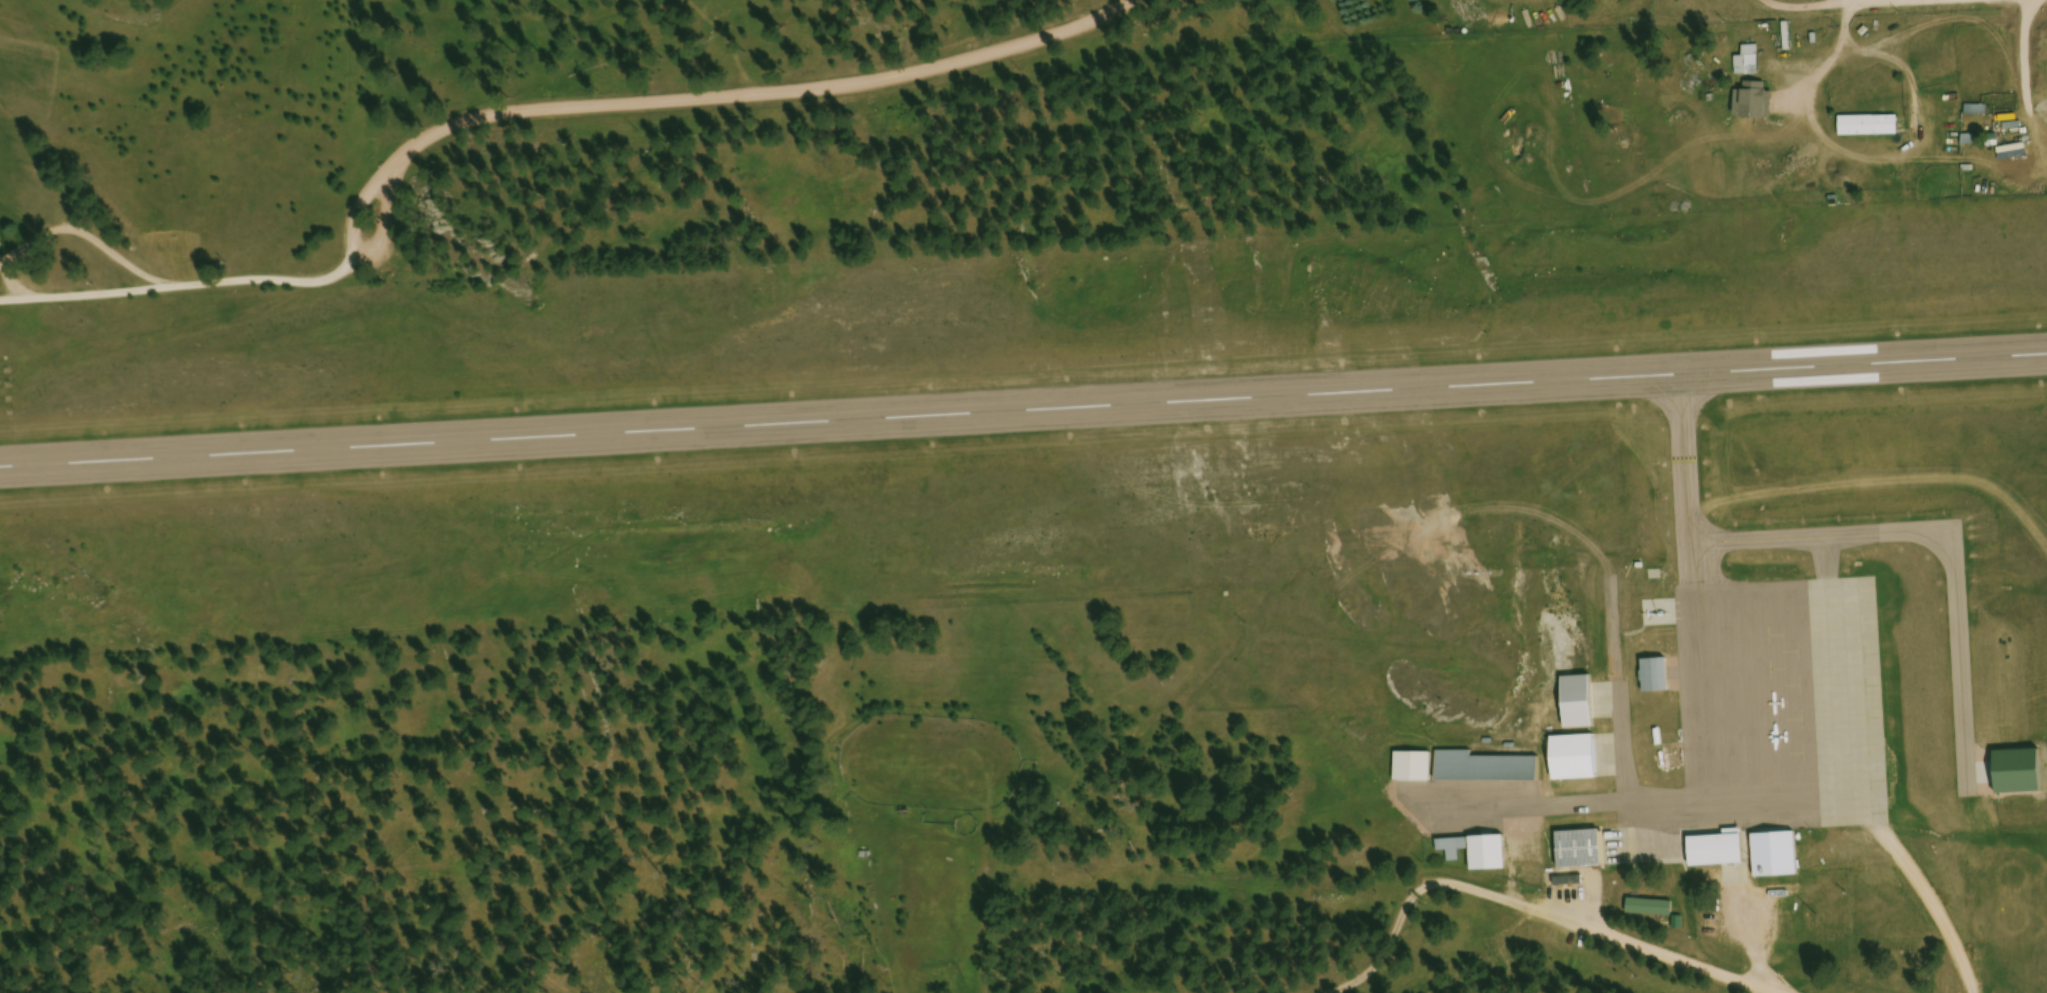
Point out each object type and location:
road: (1788, 1)
building: (1750, 63)
road: (627, 102)
building: (1998, 106)
building: (1870, 127)
building: (1993, 141)
building: (1971, 142)
road: (182, 281)
airport runway: (1023, 409)
airport: (1201, 512)
airport taxiway: (1866, 539)
airport taxiway: (1694, 567)
airport hangar: (1651, 616)
building: (1651, 616)
airport hangar: (1656, 678)
building: (1656, 678)
airport taxiway: (1617, 689)
airport hangar: (1579, 705)
building: (1579, 705)
airport taxiway: (1607, 706)
airport apron: (1773, 717)
airport taxiway: (1658, 720)
airport taxiway: (1610, 760)
airport hangar: (1575, 761)
building: (1575, 761)
airport hangar: (1414, 768)
building: (1414, 768)
airport hangar: (1485, 770)
building: (1485, 770)
airport hangar: (2018, 778)
building: (2018, 778)
airport taxiway: (1673, 800)
airport hangar: (1454, 850)
building: (1454, 850)
airport hangar: (1580, 850)
building: (1580, 850)
airport terminal: (1717, 853)
building: (1717, 853)
airport hangar: (1489, 855)
building: (1489, 855)
airport hangar: (1777, 857)
building: (1777, 857)
road: (1932, 904)
building: (1651, 909)
parking lot: (1745, 912)
road: (1541, 913)
building: (1679, 924)
road: (1756, 942)

